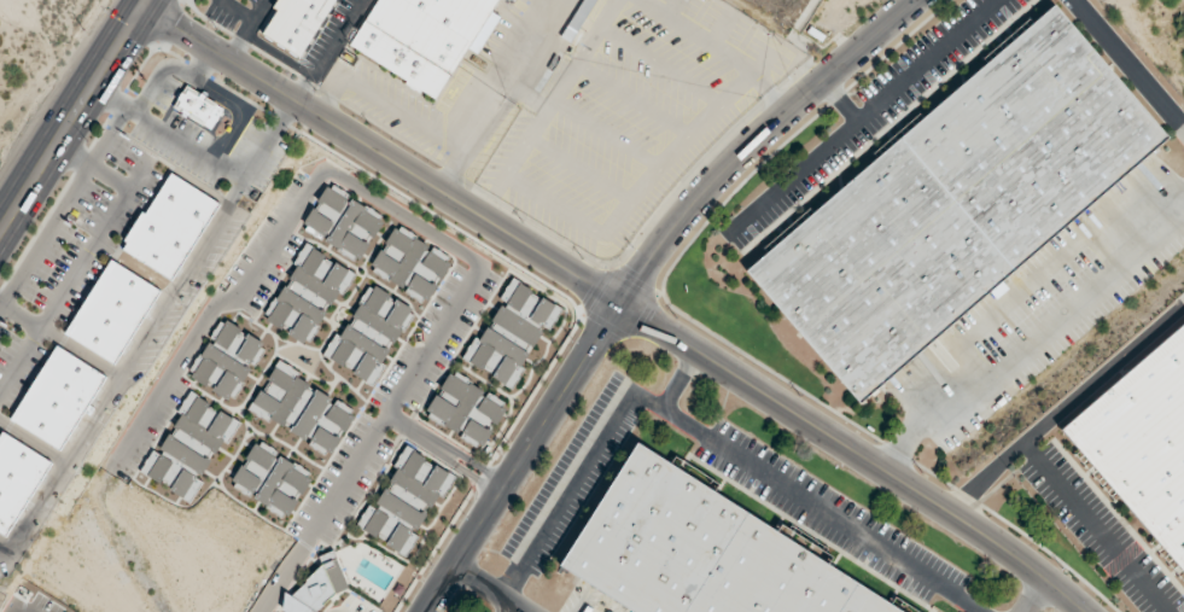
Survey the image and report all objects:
traffic signals: (142, 7)
building: (577, 19)
building: (294, 22)
power tower: (82, 30)
building: (422, 36)
road: (204, 60)
road: (1127, 65)
road: (157, 75)
road: (838, 100)
building: (196, 107)
road: (72, 115)
road: (859, 117)
road: (203, 156)
road: (93, 165)
building: (956, 204)
road: (62, 205)
building: (343, 223)
building: (168, 226)
road: (272, 243)
building: (409, 264)
road: (74, 278)
road: (636, 279)
building: (307, 297)
road: (619, 301)
building: (110, 311)
road: (21, 316)
building: (511, 333)
building: (369, 334)
building: (227, 360)
road: (680, 381)
building: (56, 398)
road: (392, 402)
road: (1066, 408)
building: (302, 410)
building: (465, 410)
road: (696, 433)
building: (1142, 443)
building: (189, 448)
road: (443, 450)
building: (16, 479)
building: (272, 480)
building: (406, 502)
road: (1095, 528)
building: (696, 552)
road: (284, 575)
building: (316, 588)
road: (486, 588)
road: (1033, 595)

